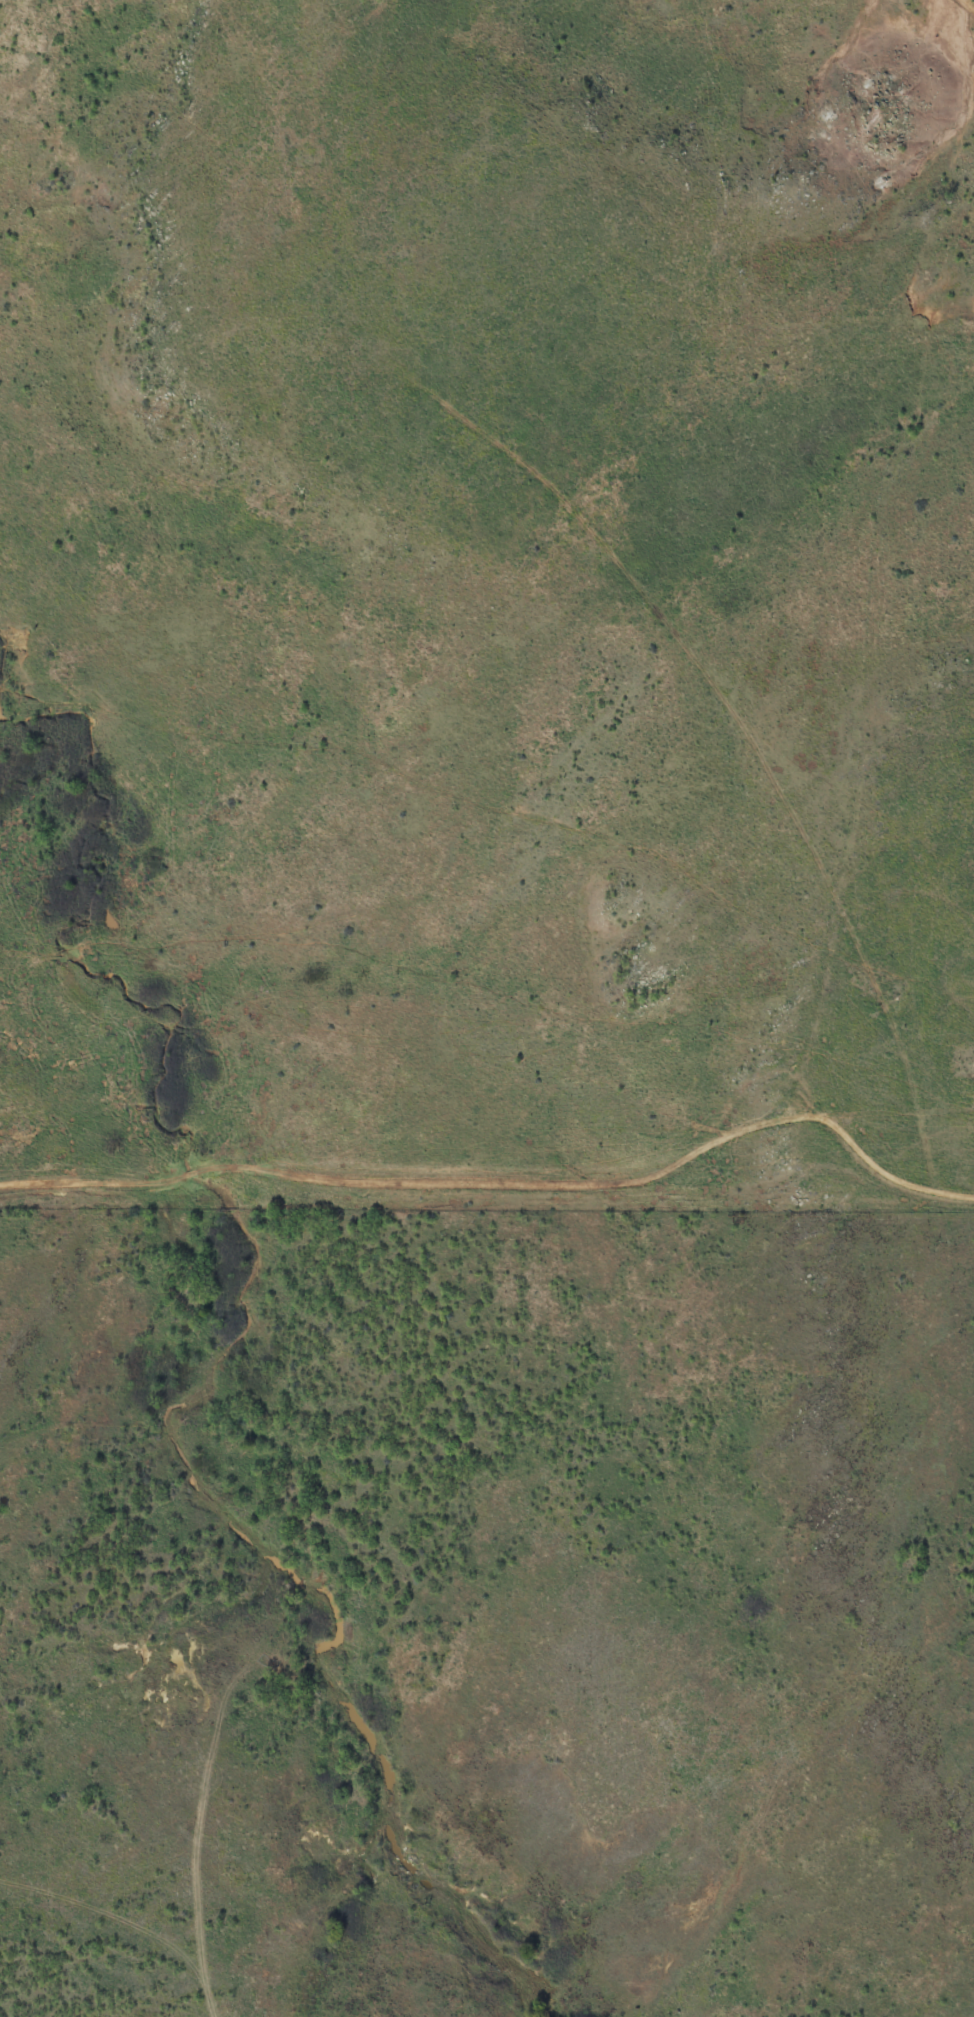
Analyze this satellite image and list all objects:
road: (919, 36)
road: (486, 1212)

